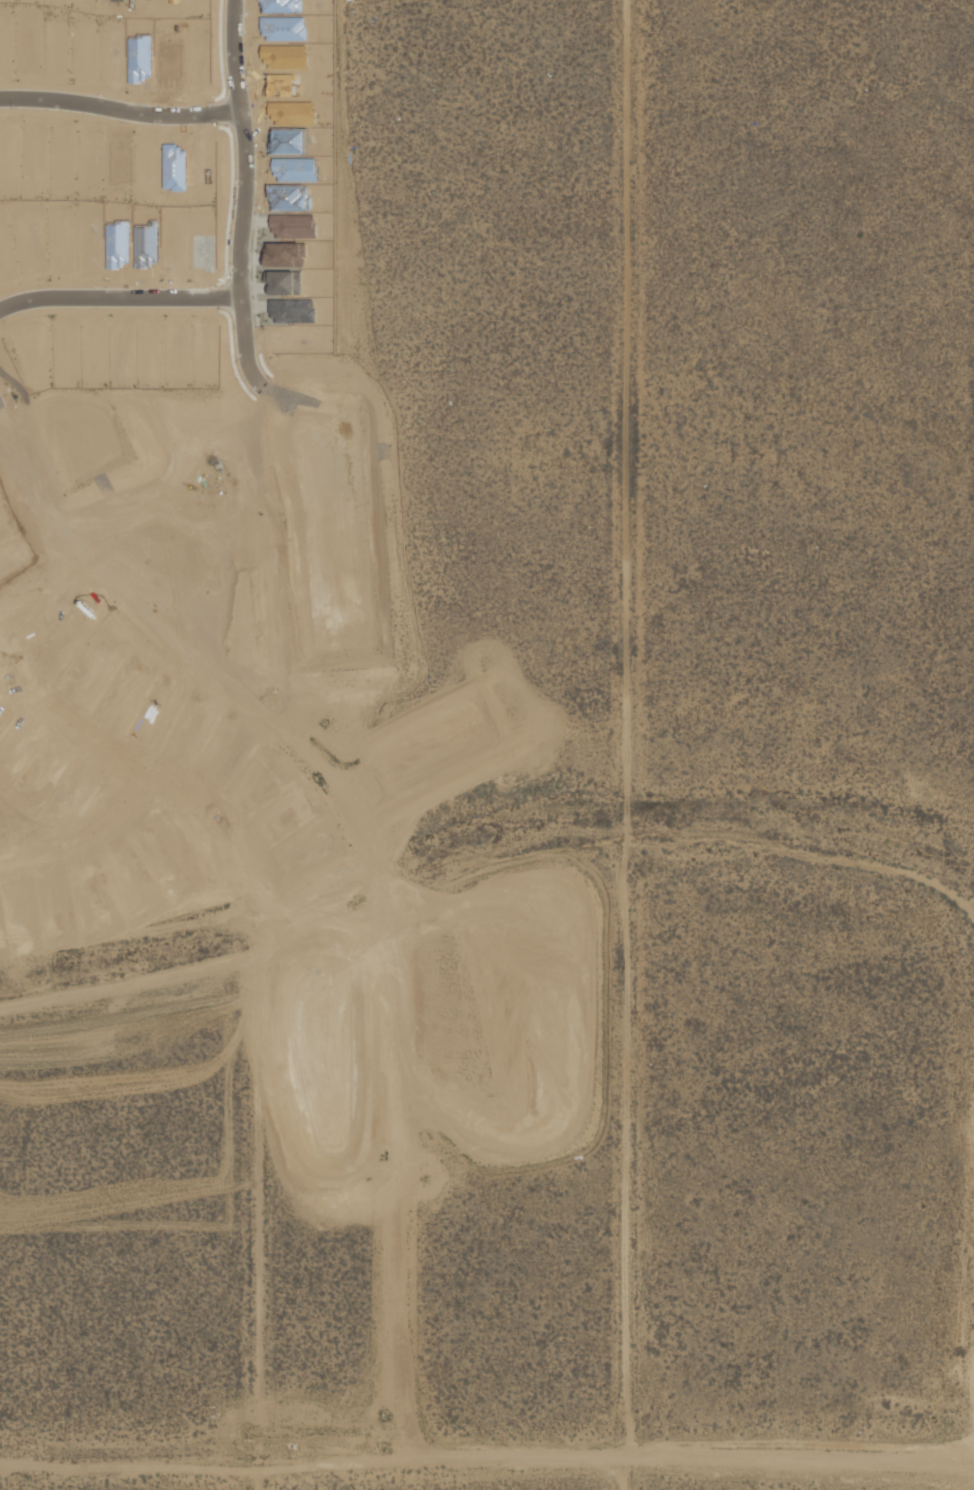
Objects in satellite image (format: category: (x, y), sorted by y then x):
building: (112, 0)
building: (140, 1)
building: (174, 2)
building: (279, 5)
building: (283, 30)
building: (54, 52)
building: (83, 54)
building: (284, 58)
building: (138, 61)
building: (166, 64)
building: (278, 84)
road: (219, 98)
road: (119, 113)
building: (292, 114)
road: (225, 115)
building: (288, 142)
building: (8, 151)
building: (89, 153)
building: (201, 162)
building: (147, 163)
building: (118, 166)
building: (173, 170)
building: (294, 171)
road: (244, 197)
road: (258, 198)
building: (288, 198)
building: (292, 227)
building: (145, 246)
building: (117, 247)
building: (174, 253)
building: (202, 254)
building: (283, 255)
building: (5, 261)
building: (283, 283)
road: (220, 284)
road: (228, 300)
road: (119, 301)
building: (292, 312)
road: (165, 314)
building: (294, 341)
building: (177, 342)
building: (92, 347)
building: (204, 351)
building: (0, 540)
road: (34, 590)
road: (39, 609)
road: (166, 637)
building: (57, 652)
road: (173, 655)
road: (173, 668)
building: (86, 678)
building: (120, 702)
building: (148, 727)
building: (186, 738)
road: (124, 766)
building: (283, 816)
road: (86, 843)
road: (377, 865)
road: (635, 1333)
road: (486, 1464)
road: (267, 1476)

